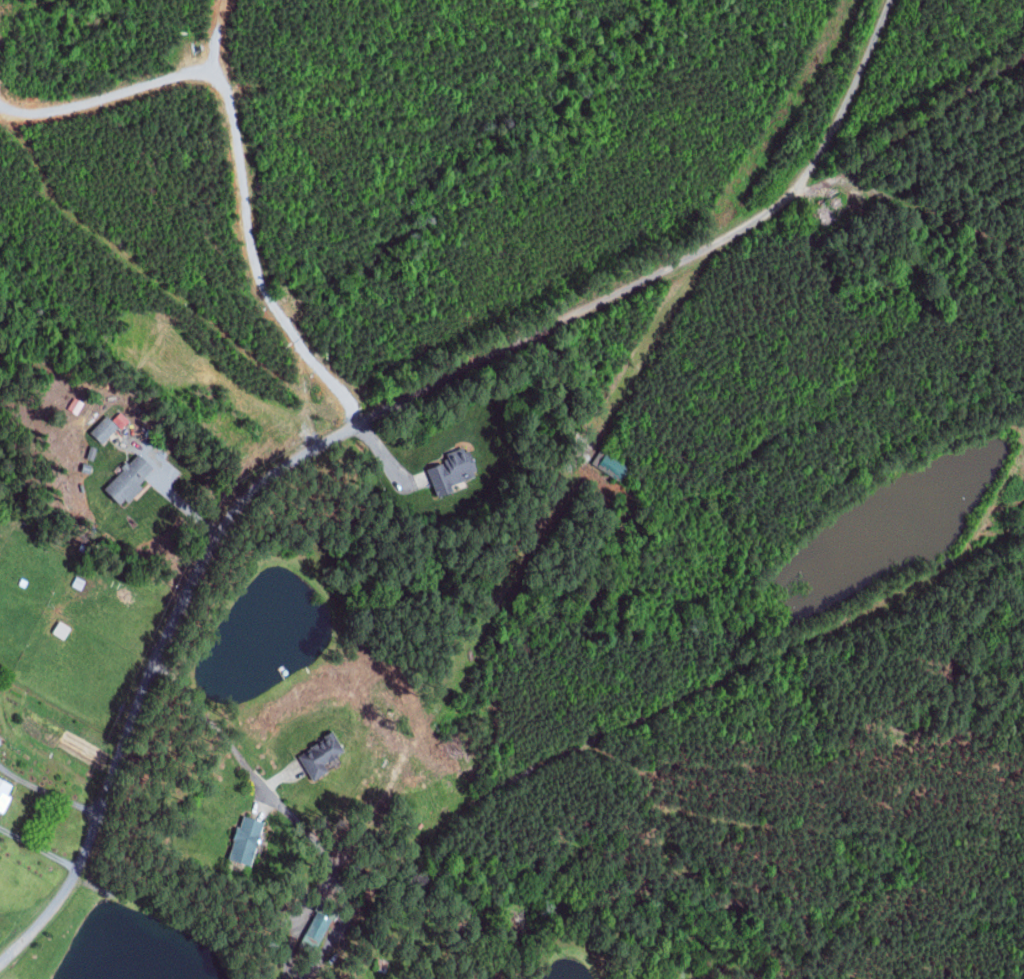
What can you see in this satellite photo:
road: (238, 145)
road: (368, 405)
building: (108, 426)
road: (382, 454)
building: (454, 470)
building: (129, 479)
road: (168, 491)
road: (207, 716)
road: (636, 720)
building: (321, 756)
building: (4, 794)
building: (247, 839)

